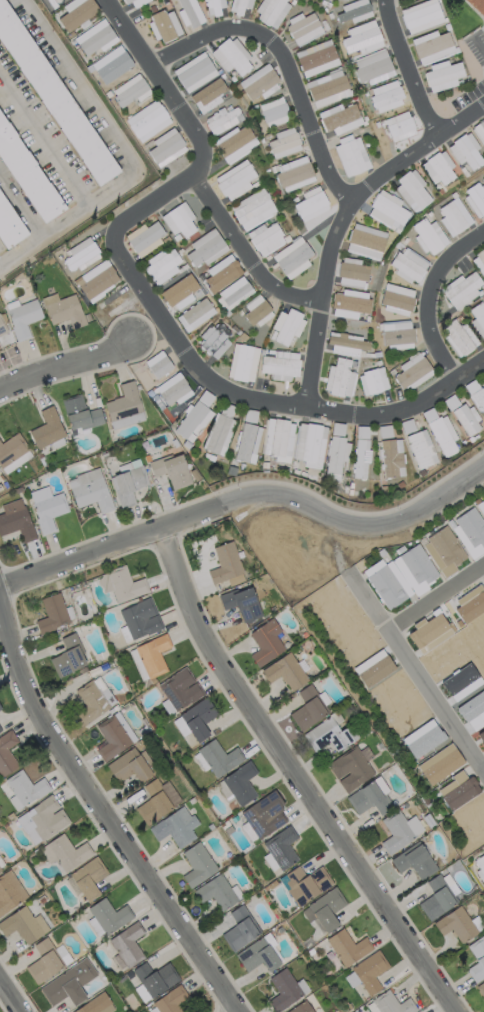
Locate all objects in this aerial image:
building: (350, 0)
building: (135, 2)
building: (213, 6)
building: (239, 6)
building: (477, 6)
building: (271, 11)
building: (354, 11)
building: (76, 13)
building: (188, 13)
building: (421, 16)
building: (163, 25)
building: (304, 29)
building: (362, 37)
building: (95, 38)
building: (433, 46)
building: (232, 57)
building: (316, 58)
road: (281, 62)
building: (114, 63)
building: (372, 67)
road: (407, 67)
building: (194, 72)
building: (442, 76)
building: (259, 82)
building: (327, 88)
building: (130, 90)
building: (208, 95)
building: (52, 96)
building: (386, 96)
building: (274, 112)
building: (339, 118)
building: (147, 120)
building: (222, 120)
road: (189, 125)
building: (399, 126)
building: (479, 130)
road: (43, 141)
building: (235, 143)
building: (283, 143)
building: (166, 147)
building: (465, 151)
road: (118, 152)
building: (351, 155)
building: (438, 168)
building: (293, 174)
building: (24, 177)
building: (235, 180)
building: (412, 191)
building: (476, 198)
building: (310, 204)
road: (20, 206)
building: (252, 208)
building: (387, 211)
building: (453, 217)
building: (178, 220)
road: (338, 220)
building: (7, 229)
building: (428, 236)
building: (144, 238)
building: (265, 238)
building: (364, 243)
building: (205, 248)
road: (247, 252)
building: (80, 255)
building: (292, 258)
building: (479, 262)
building: (408, 265)
building: (161, 266)
building: (221, 273)
building: (351, 273)
building: (96, 280)
building: (461, 290)
building: (179, 292)
building: (233, 293)
road: (430, 297)
building: (396, 299)
building: (63, 310)
building: (256, 310)
building: (194, 315)
building: (22, 318)
building: (478, 319)
building: (287, 326)
building: (2, 328)
building: (396, 332)
building: (458, 338)
building: (214, 340)
building: (345, 345)
road: (186, 349)
road: (66, 361)
building: (242, 363)
building: (158, 364)
building: (280, 365)
building: (411, 372)
building: (339, 378)
building: (372, 381)
building: (172, 390)
building: (477, 396)
building: (124, 406)
road: (400, 407)
building: (79, 414)
building: (466, 419)
building: (192, 421)
building: (46, 429)
building: (218, 434)
building: (279, 439)
building: (246, 442)
building: (309, 445)
building: (421, 448)
building: (361, 452)
building: (13, 453)
building: (335, 457)
building: (391, 458)
building: (171, 470)
building: (128, 481)
building: (89, 490)
road: (247, 496)
building: (481, 506)
building: (46, 508)
building: (15, 520)
building: (469, 532)
building: (443, 551)
building: (226, 565)
road: (483, 569)
building: (402, 576)
building: (121, 585)
building: (241, 603)
building: (470, 603)
road: (370, 605)
building: (51, 614)
building: (139, 619)
building: (429, 633)
building: (265, 642)
road: (404, 655)
building: (68, 656)
building: (149, 657)
building: (285, 671)
building: (179, 689)
building: (89, 701)
building: (308, 708)
building: (0, 709)
building: (197, 719)
building: (0, 730)
building: (328, 735)
building: (481, 735)
building: (113, 736)
building: (7, 752)
building: (219, 758)
building: (439, 764)
building: (129, 766)
building: (352, 768)
road: (294, 775)
building: (237, 784)
building: (24, 789)
building: (457, 790)
building: (369, 797)
building: (157, 800)
road: (102, 804)
building: (264, 814)
building: (41, 820)
building: (175, 827)
building: (399, 831)
building: (279, 849)
building: (64, 852)
building: (414, 861)
building: (197, 865)
building: (480, 867)
building: (0, 870)
building: (87, 877)
building: (304, 884)
building: (10, 892)
building: (216, 892)
building: (436, 898)
building: (323, 910)
building: (108, 915)
building: (455, 924)
building: (23, 925)
building: (240, 928)
building: (126, 945)
building: (347, 947)
building: (257, 955)
building: (476, 958)
building: (46, 960)
building: (369, 971)
building: (153, 979)
building: (68, 983)
building: (480, 988)
building: (285, 989)
road: (11, 996)
building: (168, 1002)
building: (389, 1004)
building: (96, 1005)
building: (301, 1008)

